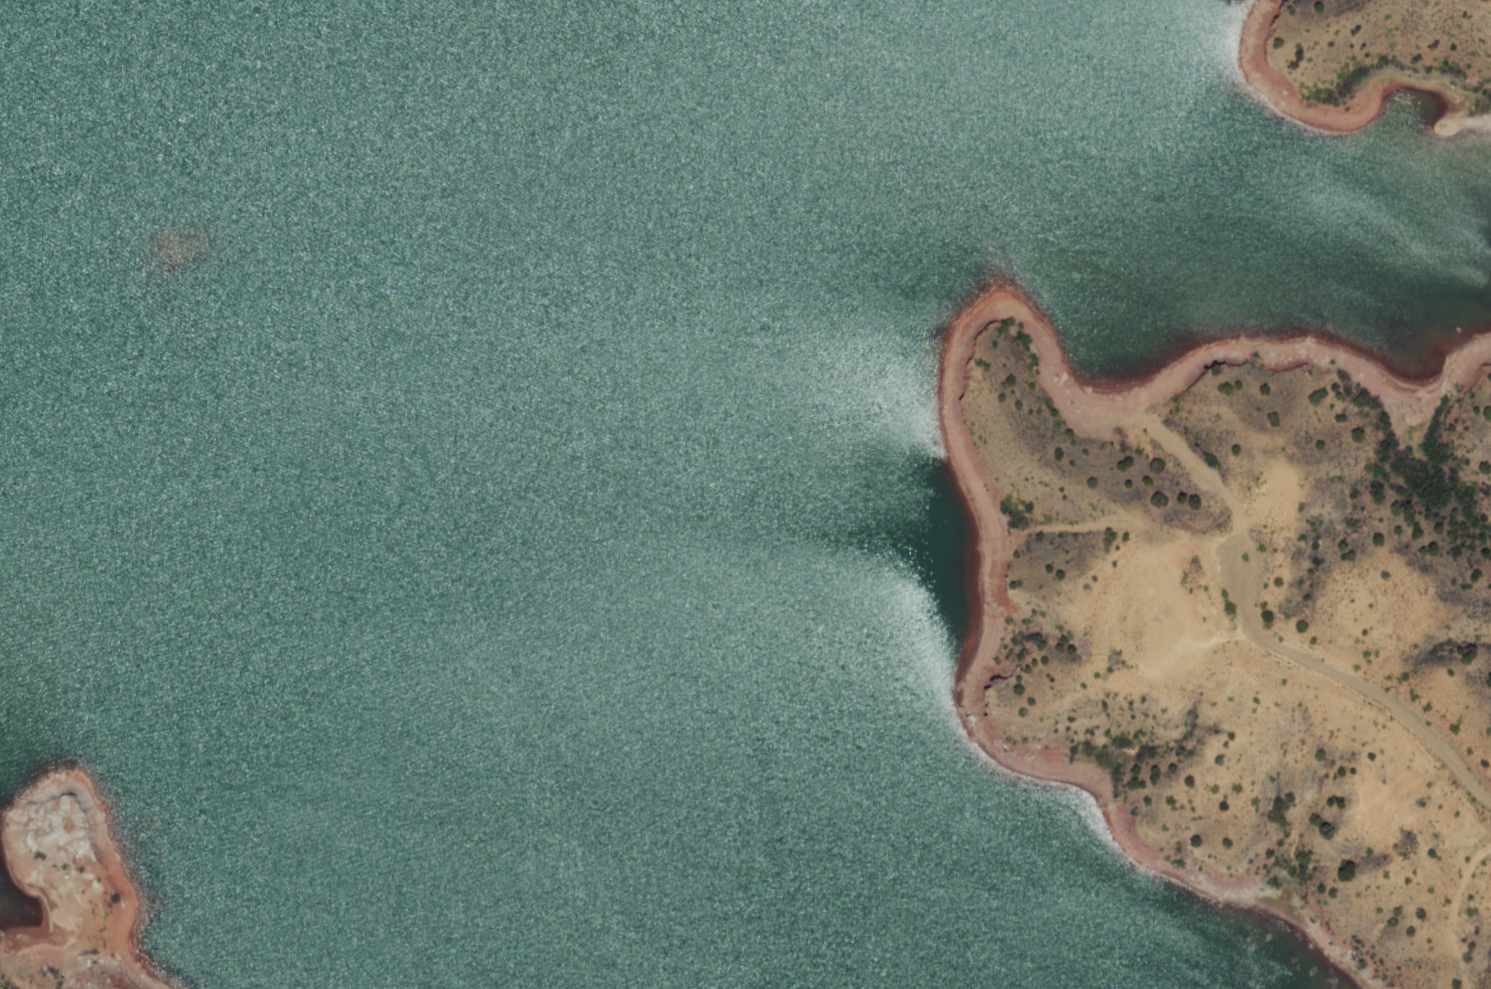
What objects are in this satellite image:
road: (1364, 687)

